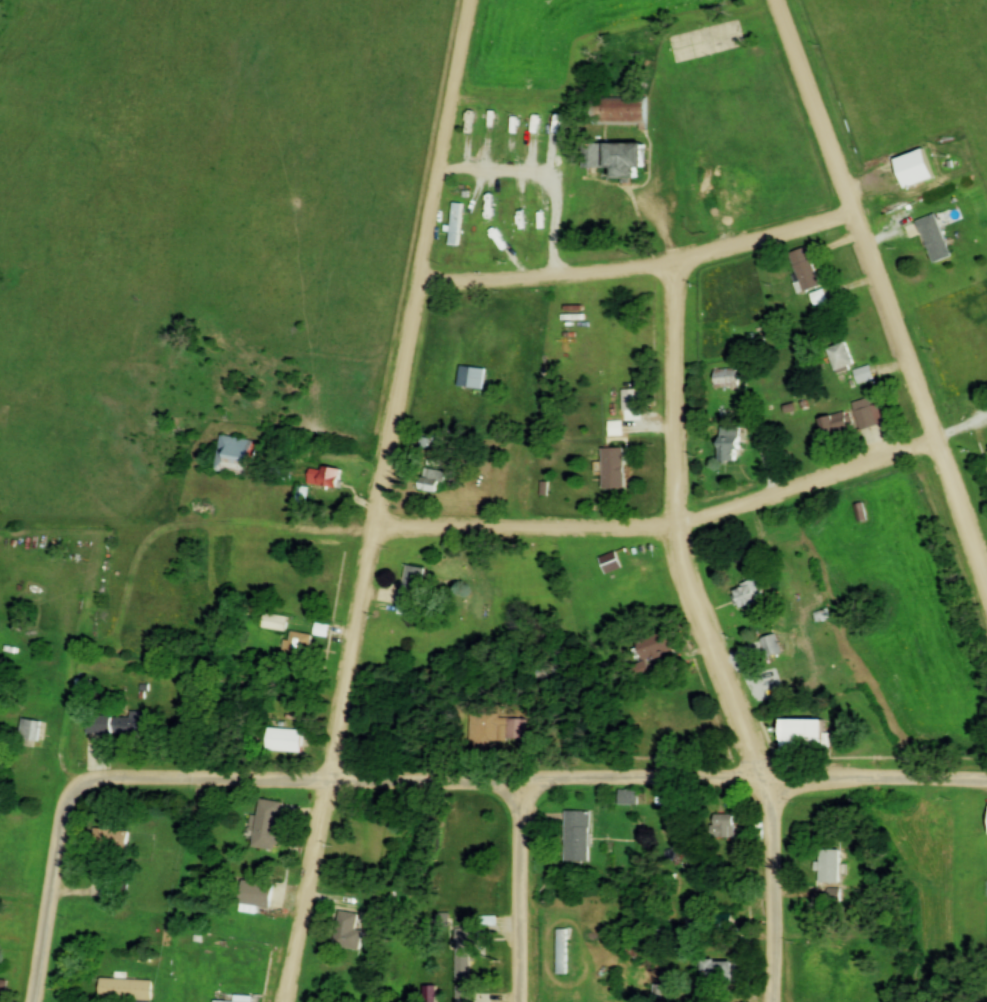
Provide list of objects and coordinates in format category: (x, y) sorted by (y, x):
building: (622, 111)
building: (474, 121)
building: (565, 135)
building: (613, 158)
building: (914, 169)
building: (495, 216)
building: (517, 216)
building: (538, 216)
building: (455, 224)
building: (932, 238)
building: (478, 241)
road: (645, 268)
building: (803, 269)
road: (886, 282)
building: (839, 356)
building: (470, 378)
building: (725, 378)
building: (864, 413)
building: (833, 425)
building: (614, 428)
building: (727, 445)
building: (232, 456)
building: (611, 469)
building: (284, 473)
building: (324, 477)
building: (430, 481)
road: (385, 501)
building: (859, 512)
road: (668, 528)
road: (680, 548)
building: (609, 563)
building: (410, 590)
building: (746, 596)
building: (273, 622)
building: (297, 645)
building: (769, 646)
building: (651, 652)
building: (81, 689)
building: (123, 725)
building: (481, 725)
building: (35, 731)
building: (800, 736)
building: (289, 741)
road: (533, 780)
building: (626, 797)
building: (272, 826)
building: (722, 826)
building: (576, 835)
building: (112, 840)
building: (827, 867)
road: (526, 891)
building: (260, 892)
road: (55, 894)
park: (973, 909)
building: (723, 921)
building: (352, 932)
building: (232, 952)
building: (561, 952)
building: (468, 956)
building: (835, 960)
building: (709, 970)
building: (627, 985)
building: (5, 990)
building: (131, 991)
building: (463, 994)

